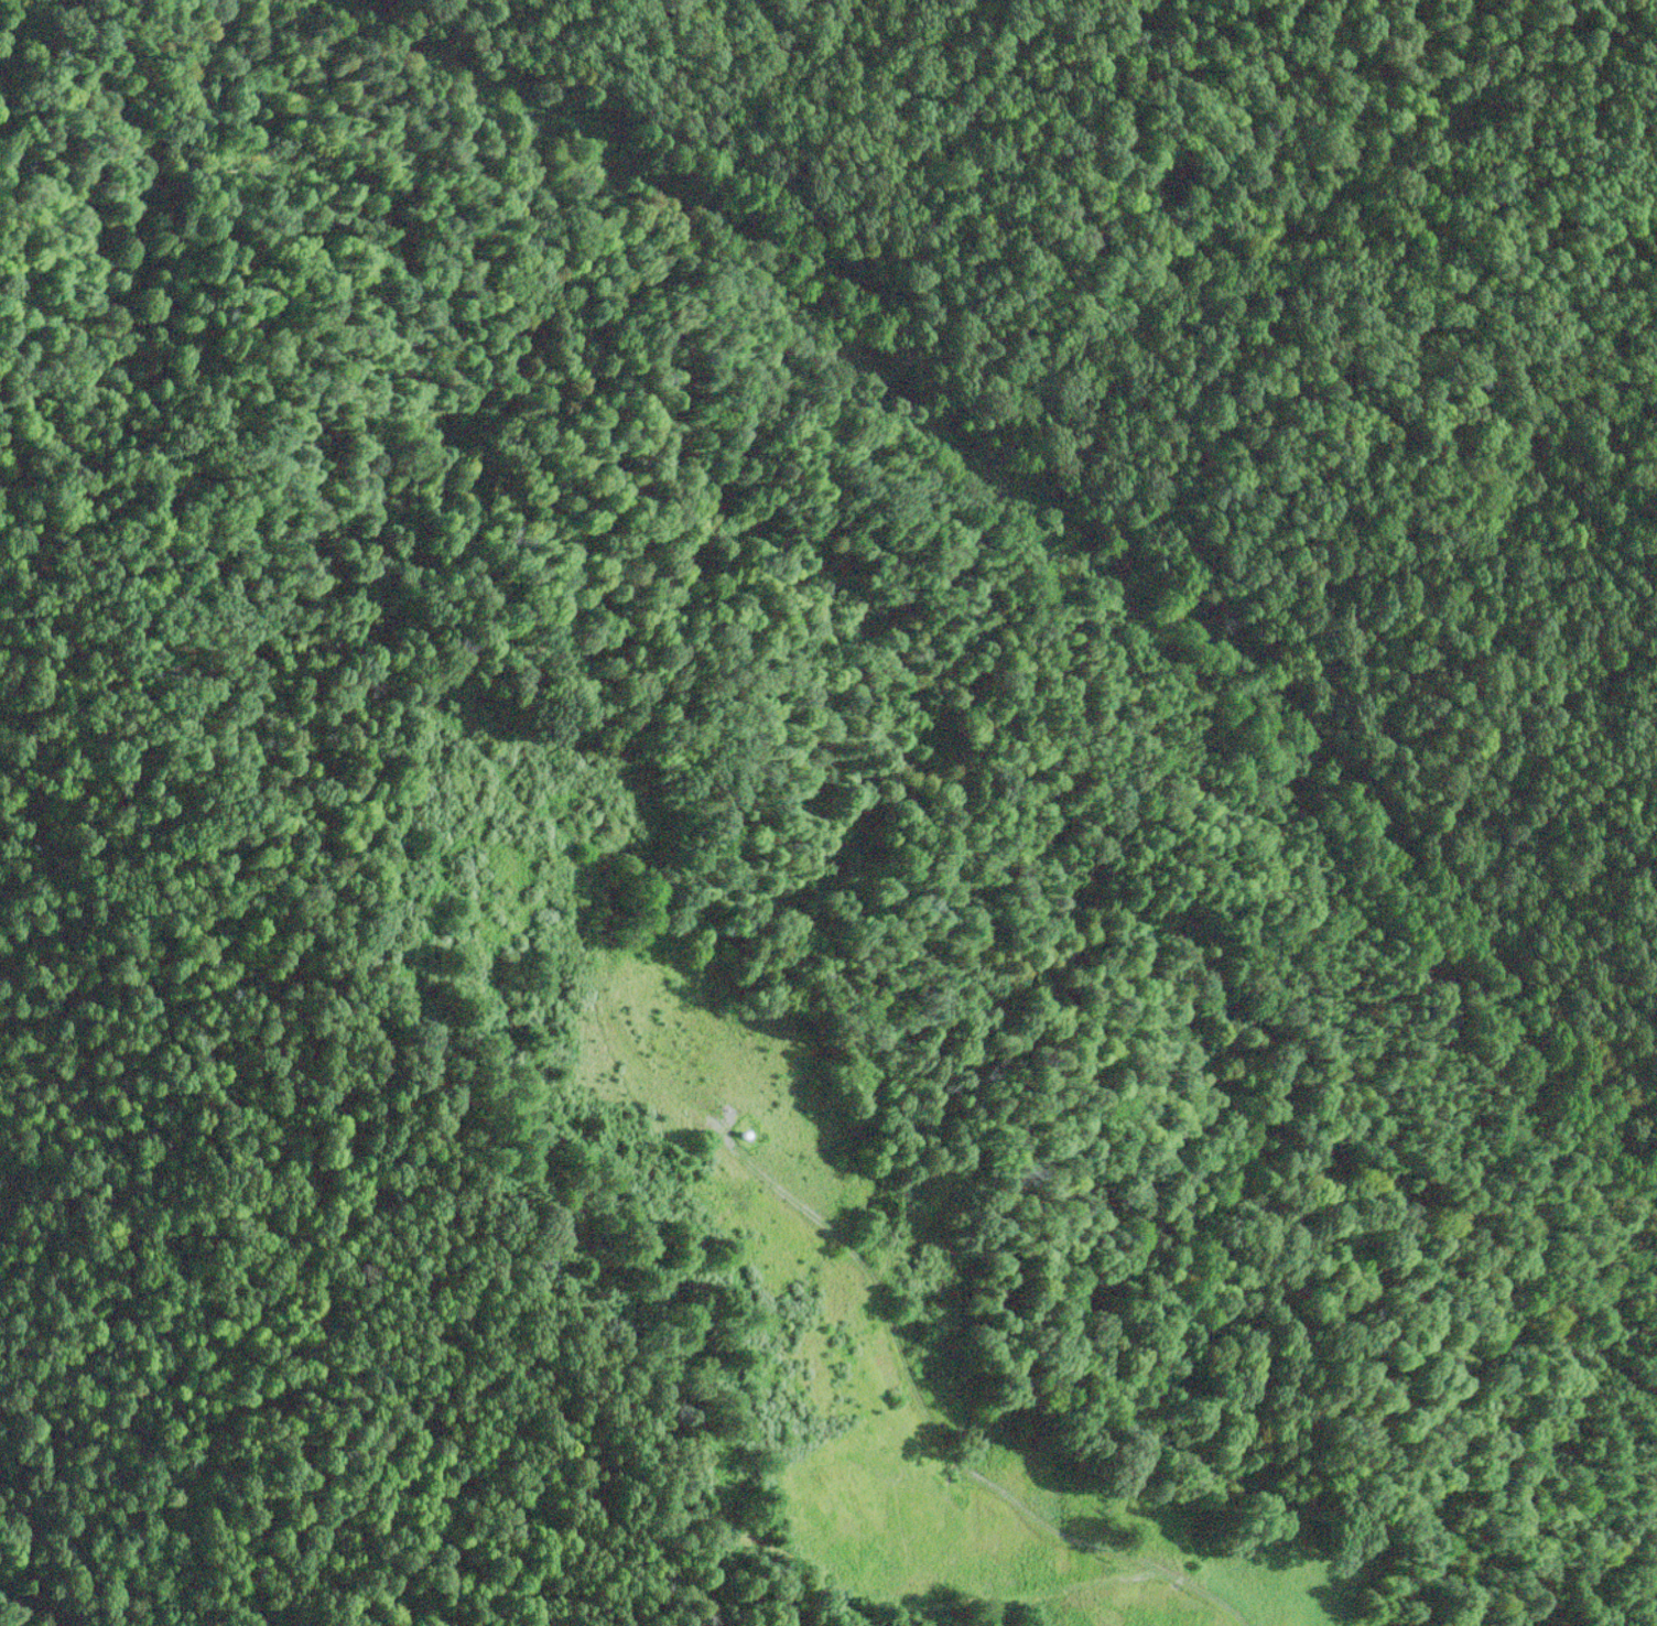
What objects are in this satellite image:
road: (646, 1051)
road: (885, 1602)

